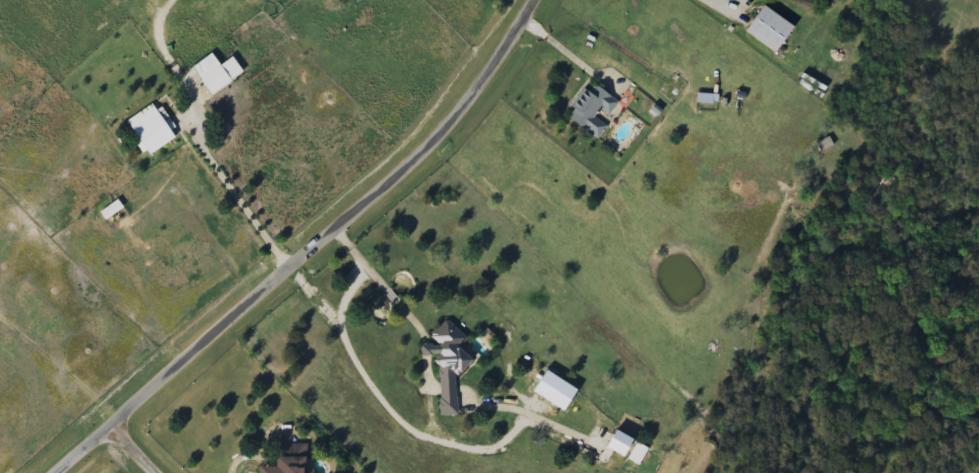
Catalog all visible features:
road: (706, 5)
building: (766, 29)
road: (569, 56)
building: (219, 76)
building: (705, 99)
building: (590, 110)
building: (148, 130)
road: (237, 196)
building: (110, 210)
road: (335, 226)
road: (373, 280)
road: (345, 294)
building: (446, 364)
road: (377, 399)
building: (616, 445)
road: (80, 449)
road: (130, 449)
building: (636, 454)
building: (282, 466)

